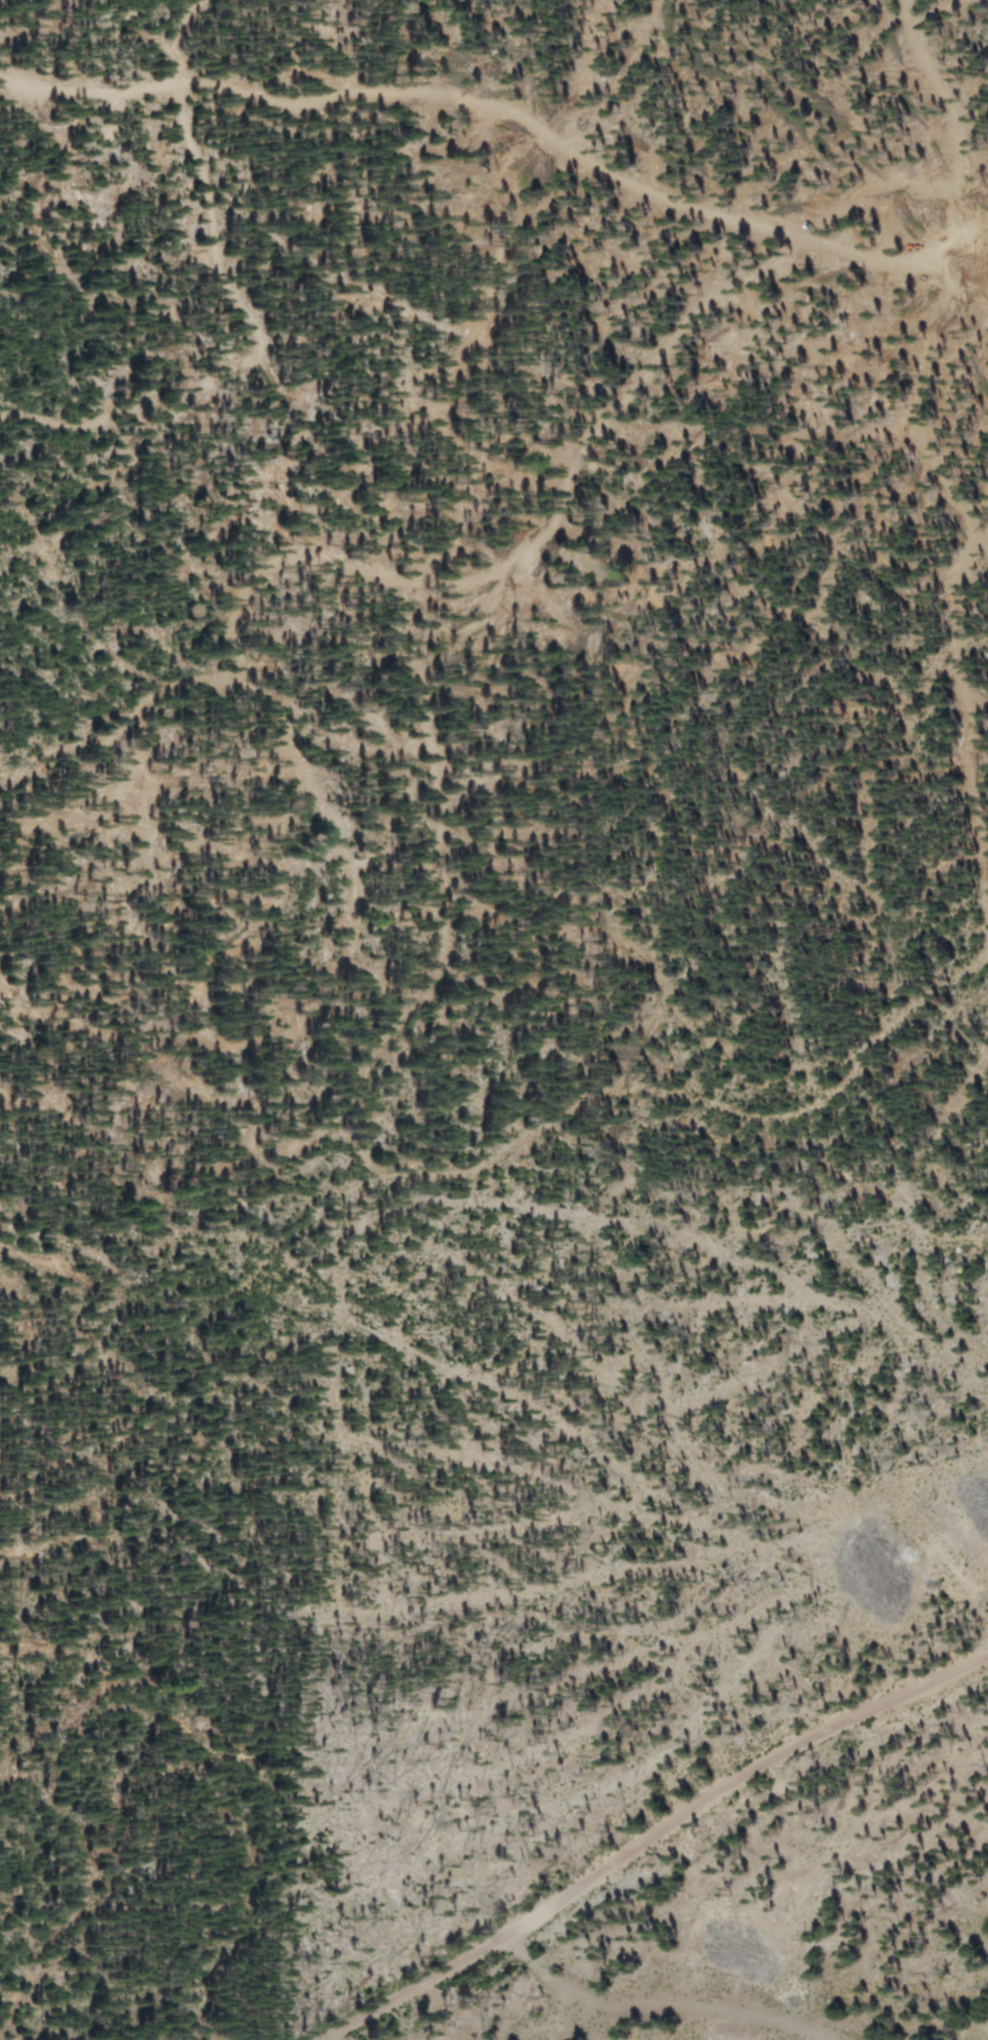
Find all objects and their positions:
road: (650, 1837)

